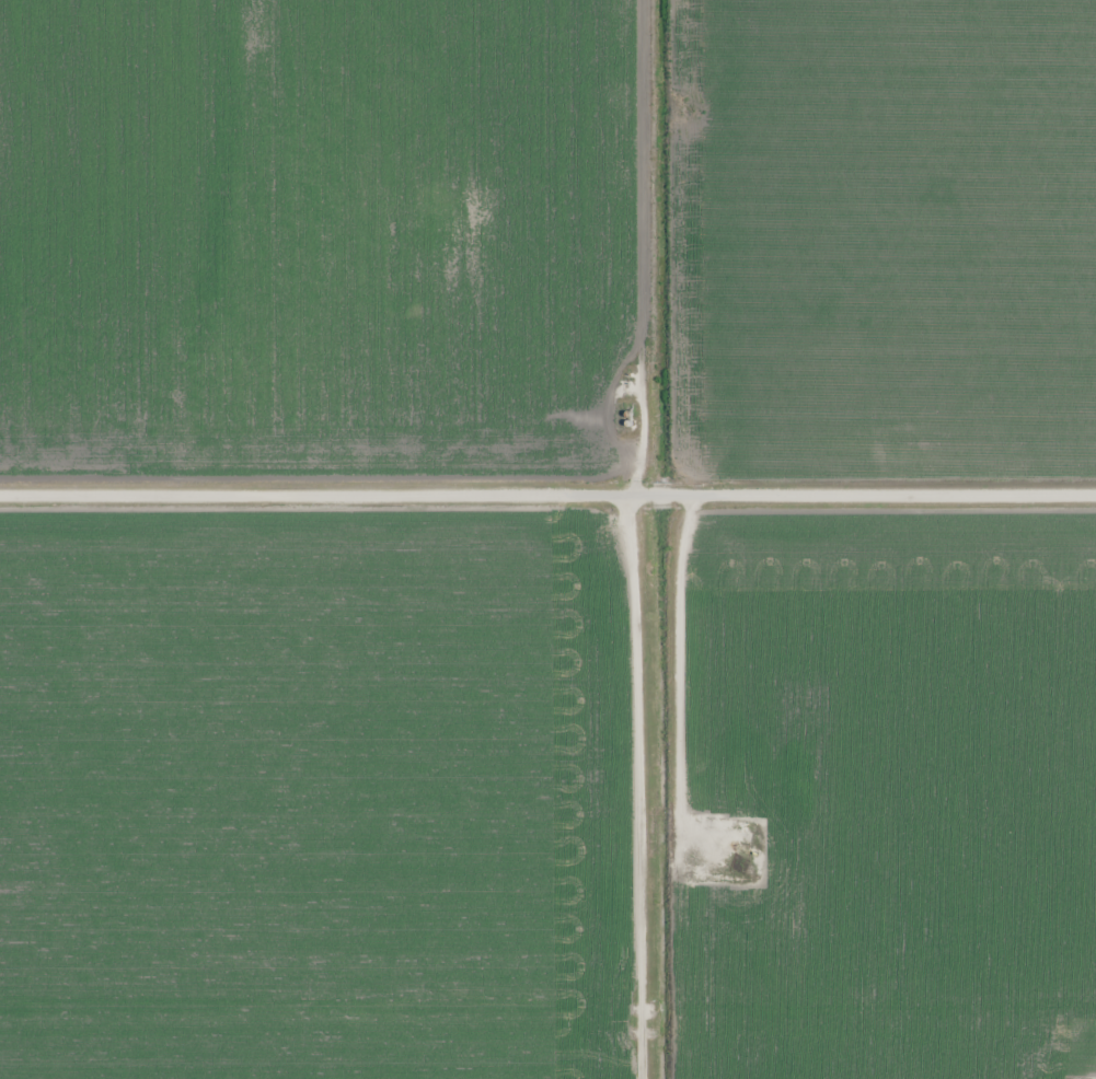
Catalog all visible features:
road: (547, 494)

